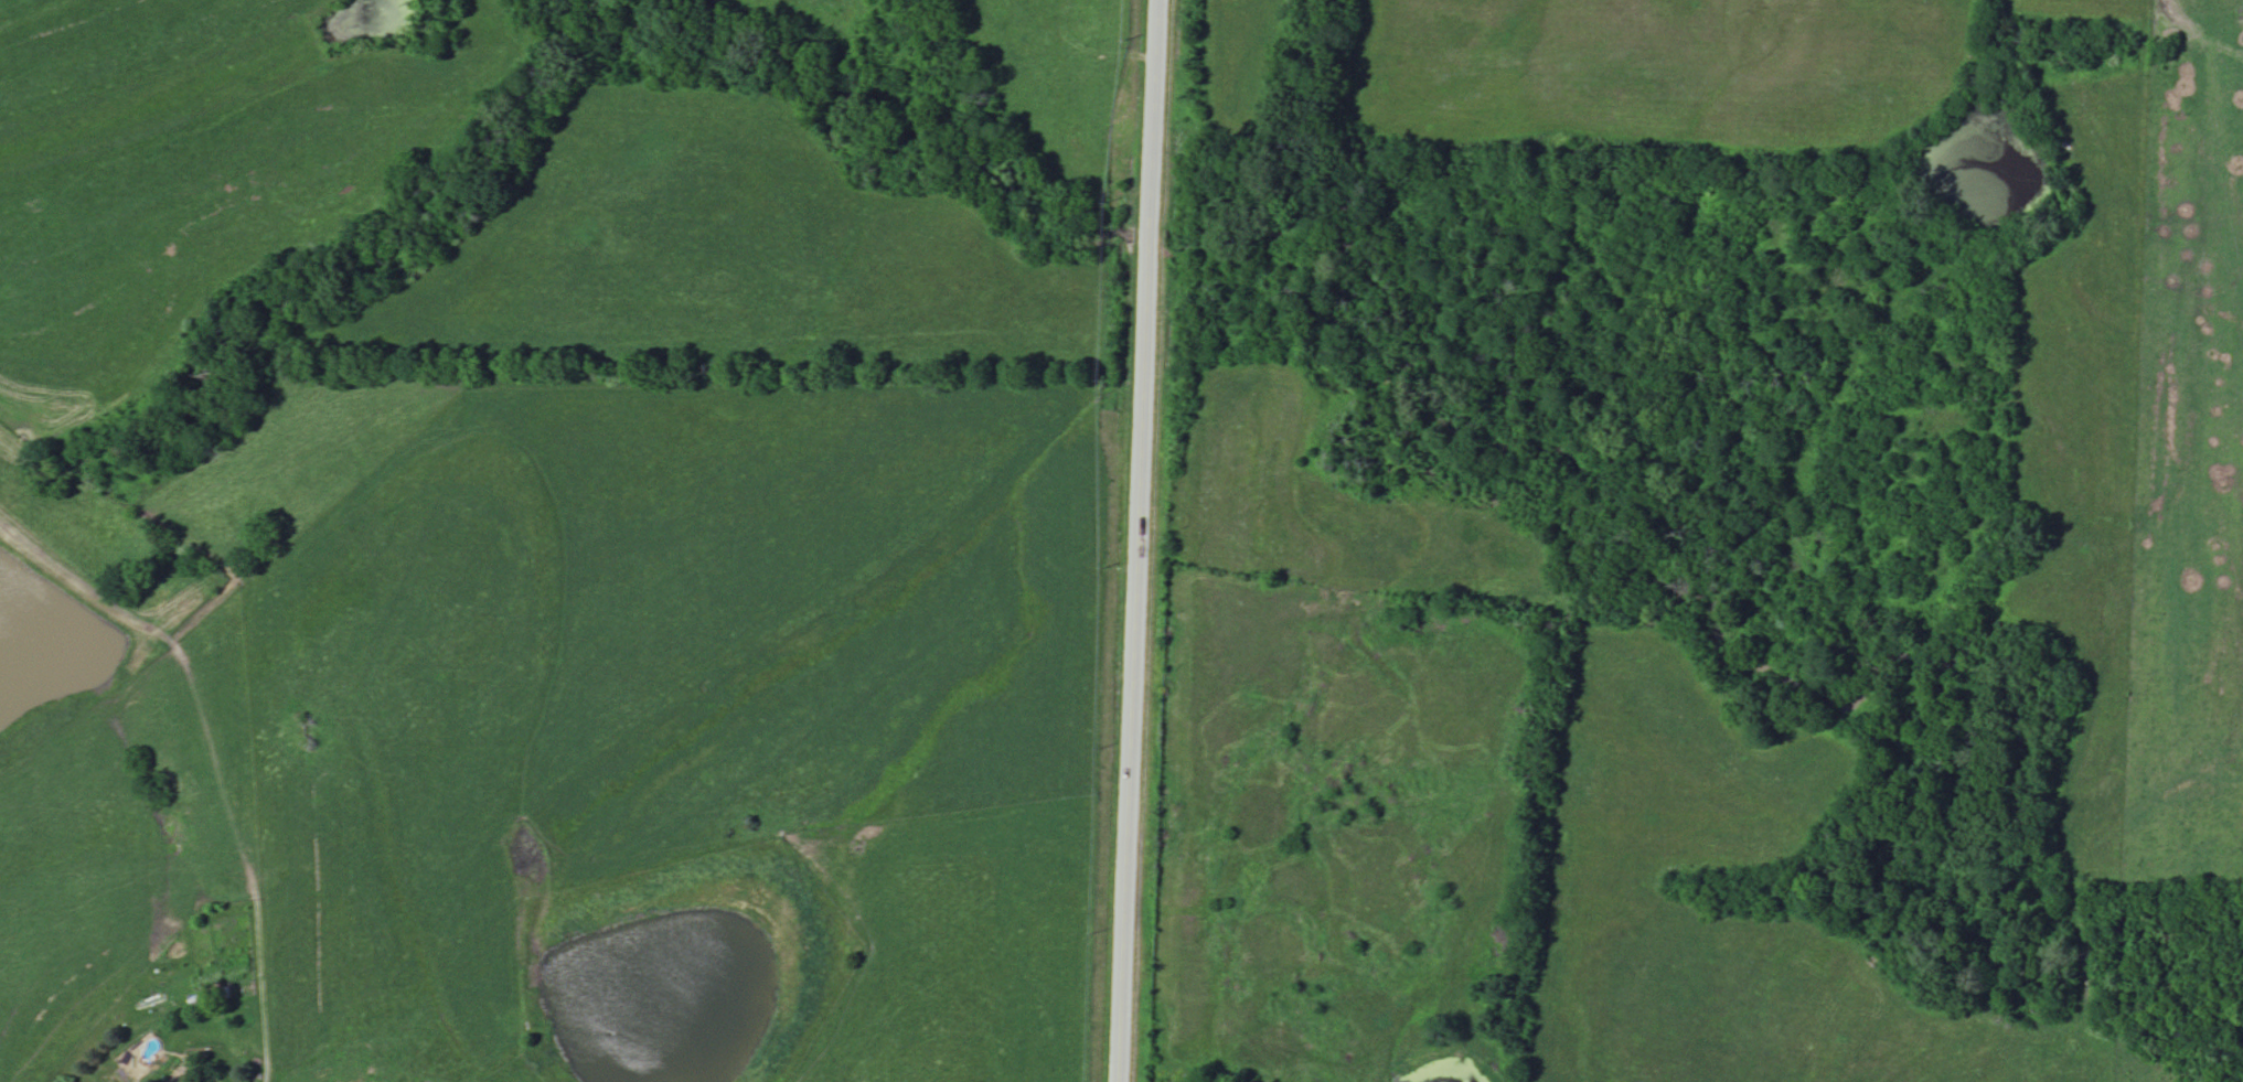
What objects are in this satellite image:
road: (1139, 540)

